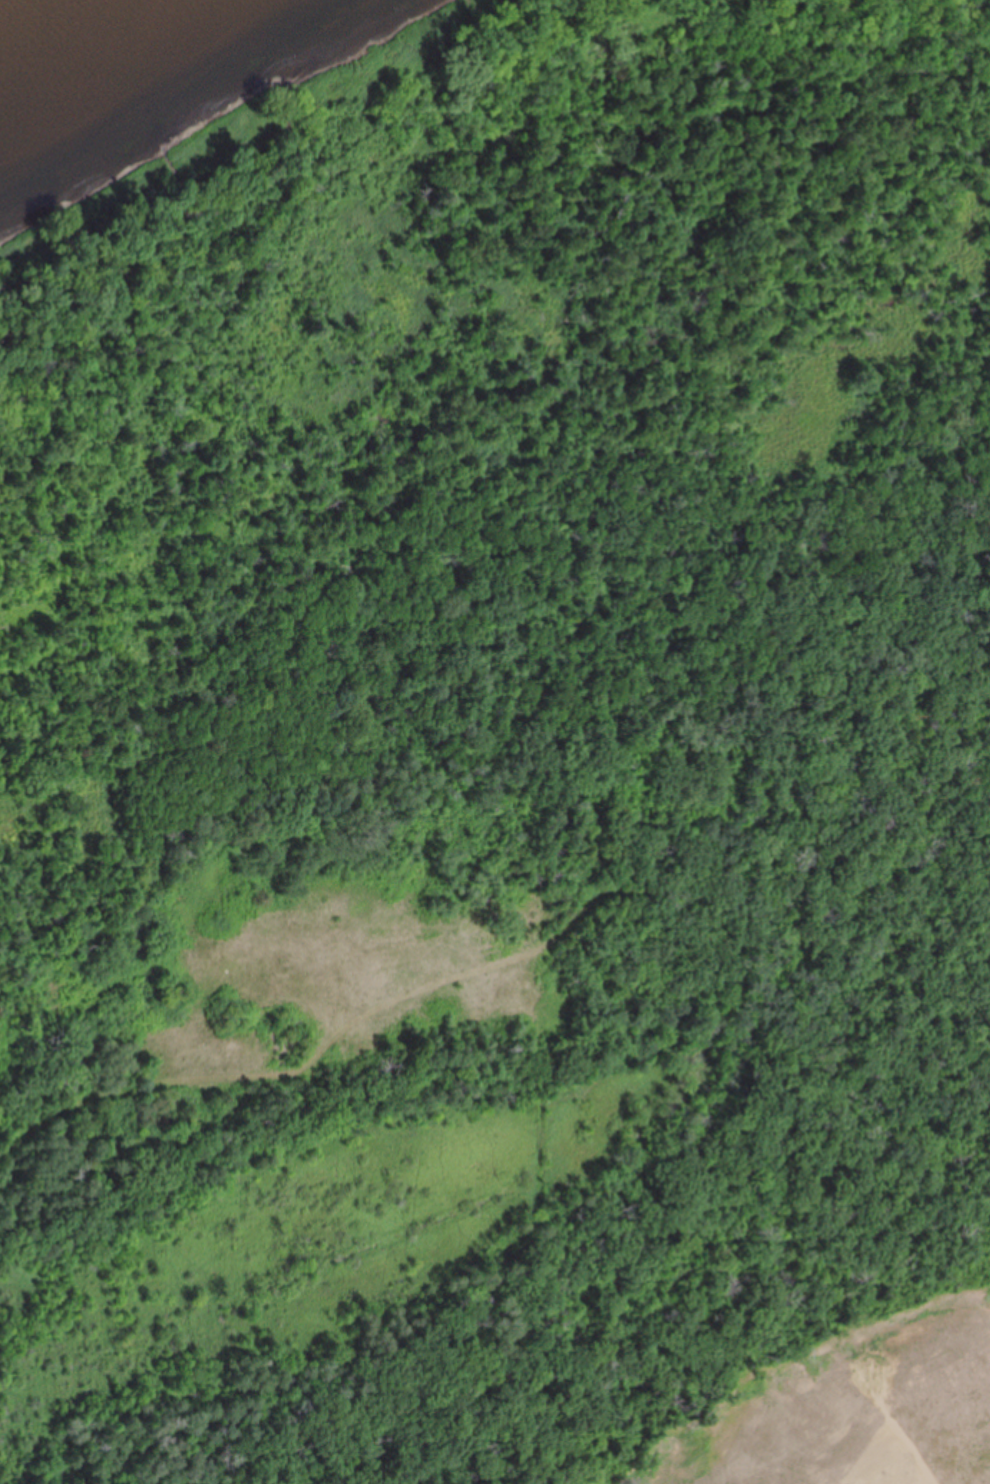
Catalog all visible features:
park: (481, 715)
road: (521, 936)

